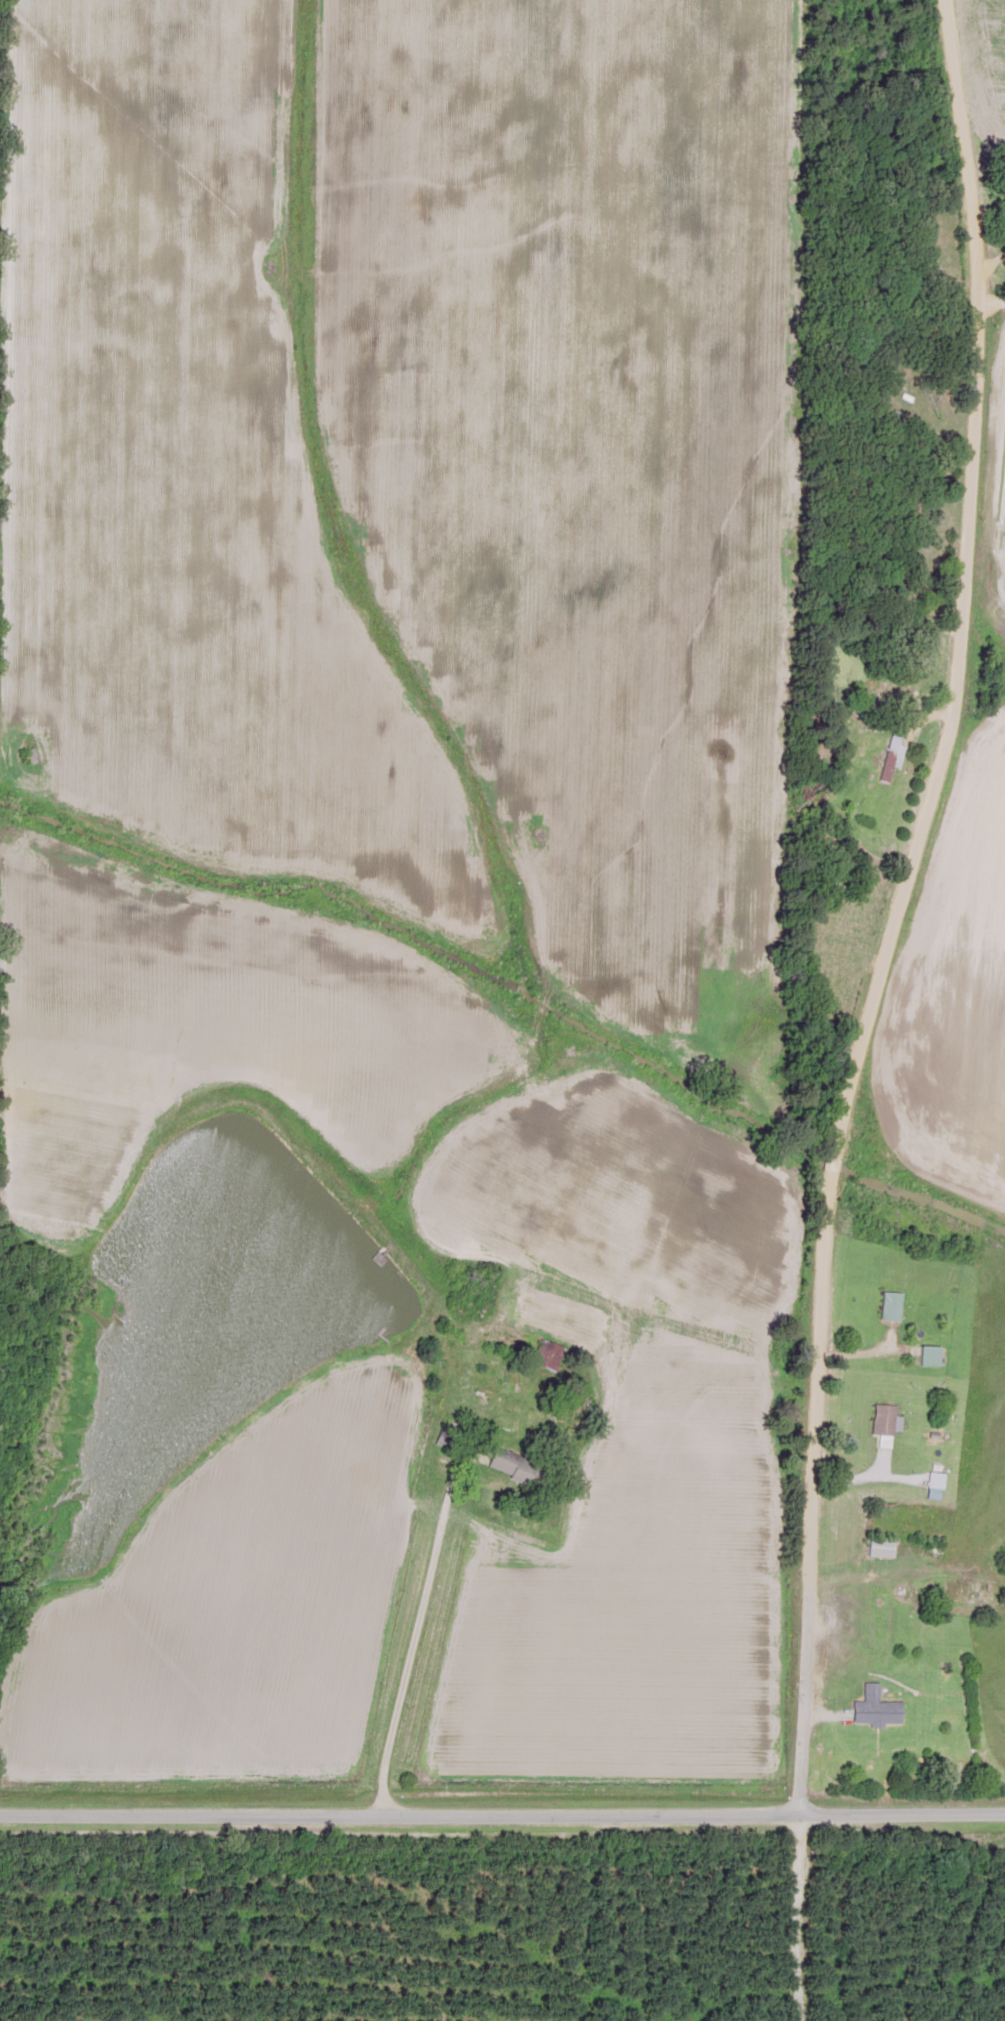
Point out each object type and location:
building: (889, 759)
road: (912, 901)
building: (889, 1307)
building: (928, 1356)
building: (551, 1358)
building: (883, 1425)
building: (879, 1548)
building: (966, 1591)
road: (411, 1626)
building: (873, 1709)
road: (502, 1801)

